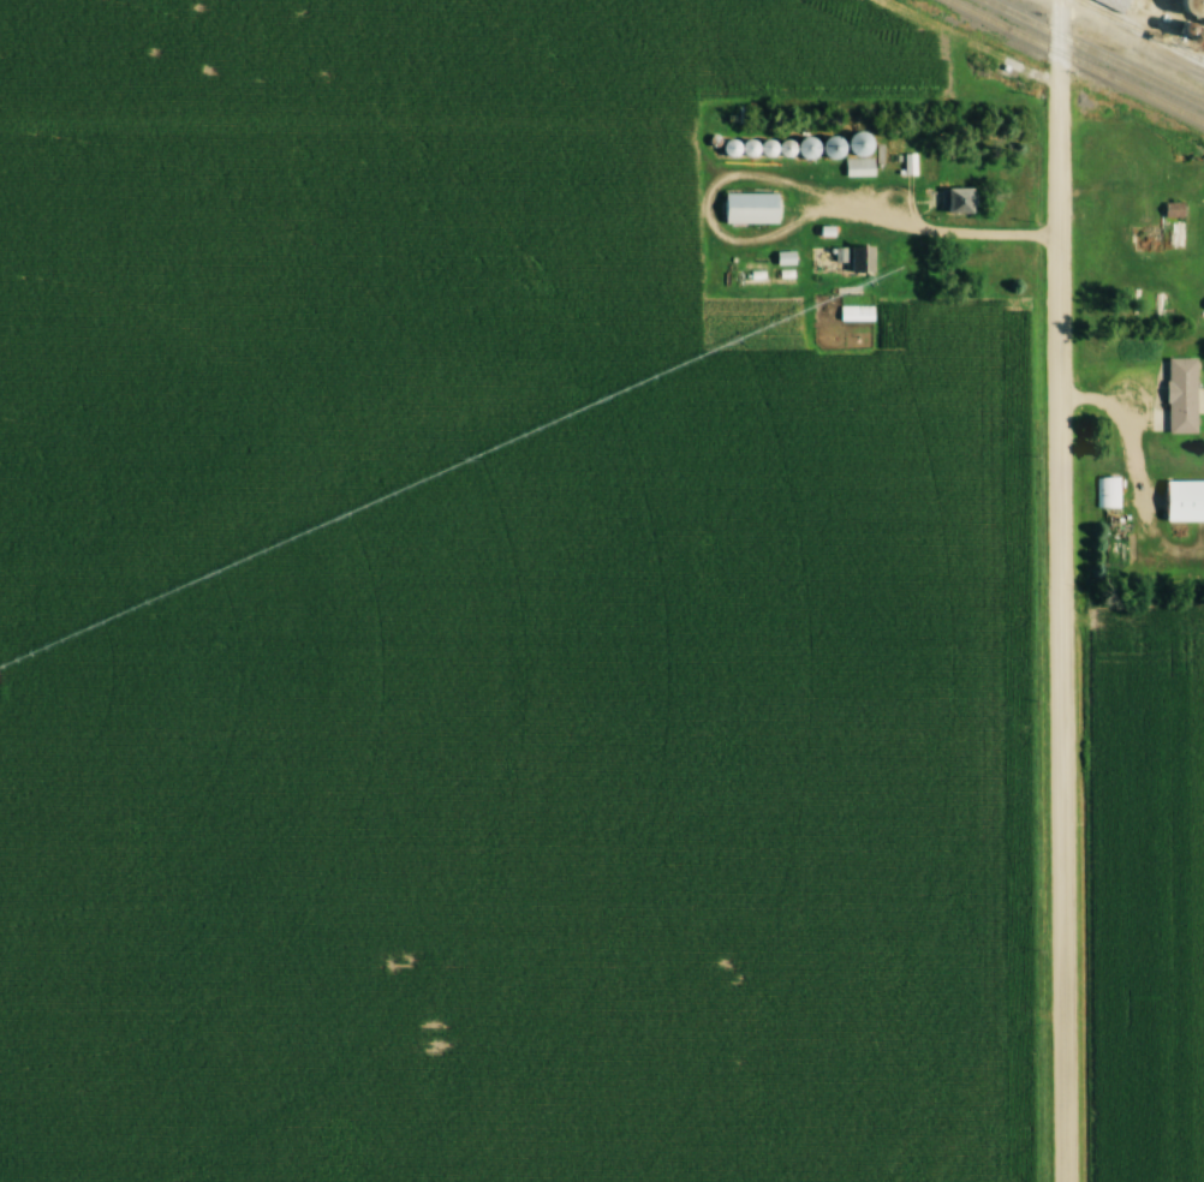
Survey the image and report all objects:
railway: (1137, 31)
railway: (1095, 52)
railway: (1075, 61)
building: (864, 145)
building: (812, 149)
building: (838, 149)
building: (960, 202)
building: (740, 213)
road: (964, 239)
building: (787, 261)
building: (864, 261)
building: (1184, 395)
road: (1123, 418)
building: (1099, 497)
building: (1179, 505)
road: (1051, 590)

